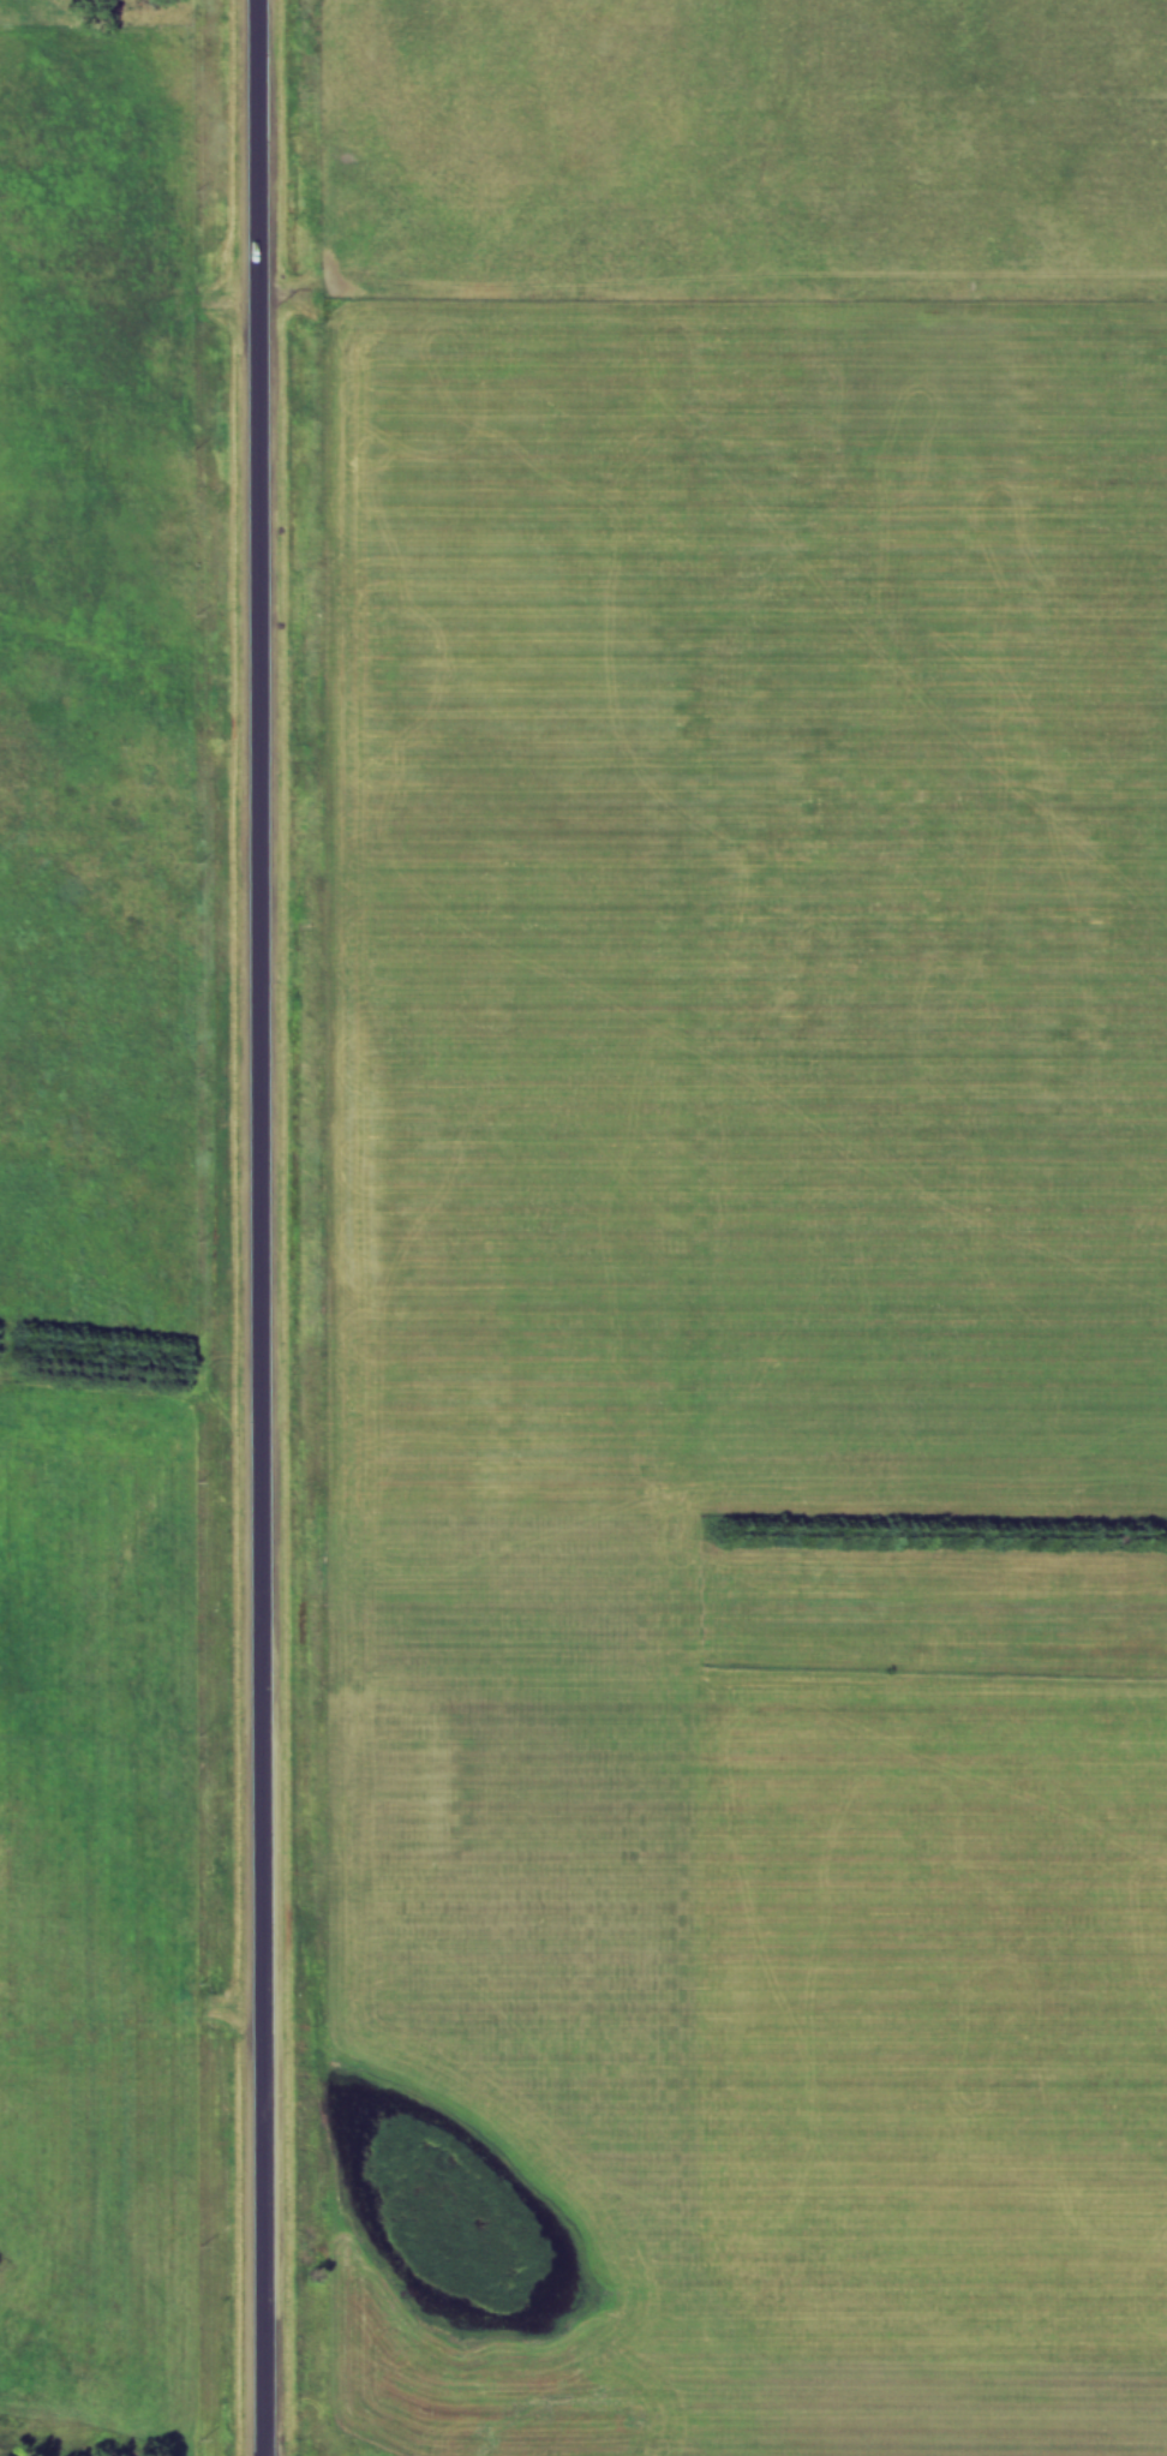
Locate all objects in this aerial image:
road: (258, 1227)

